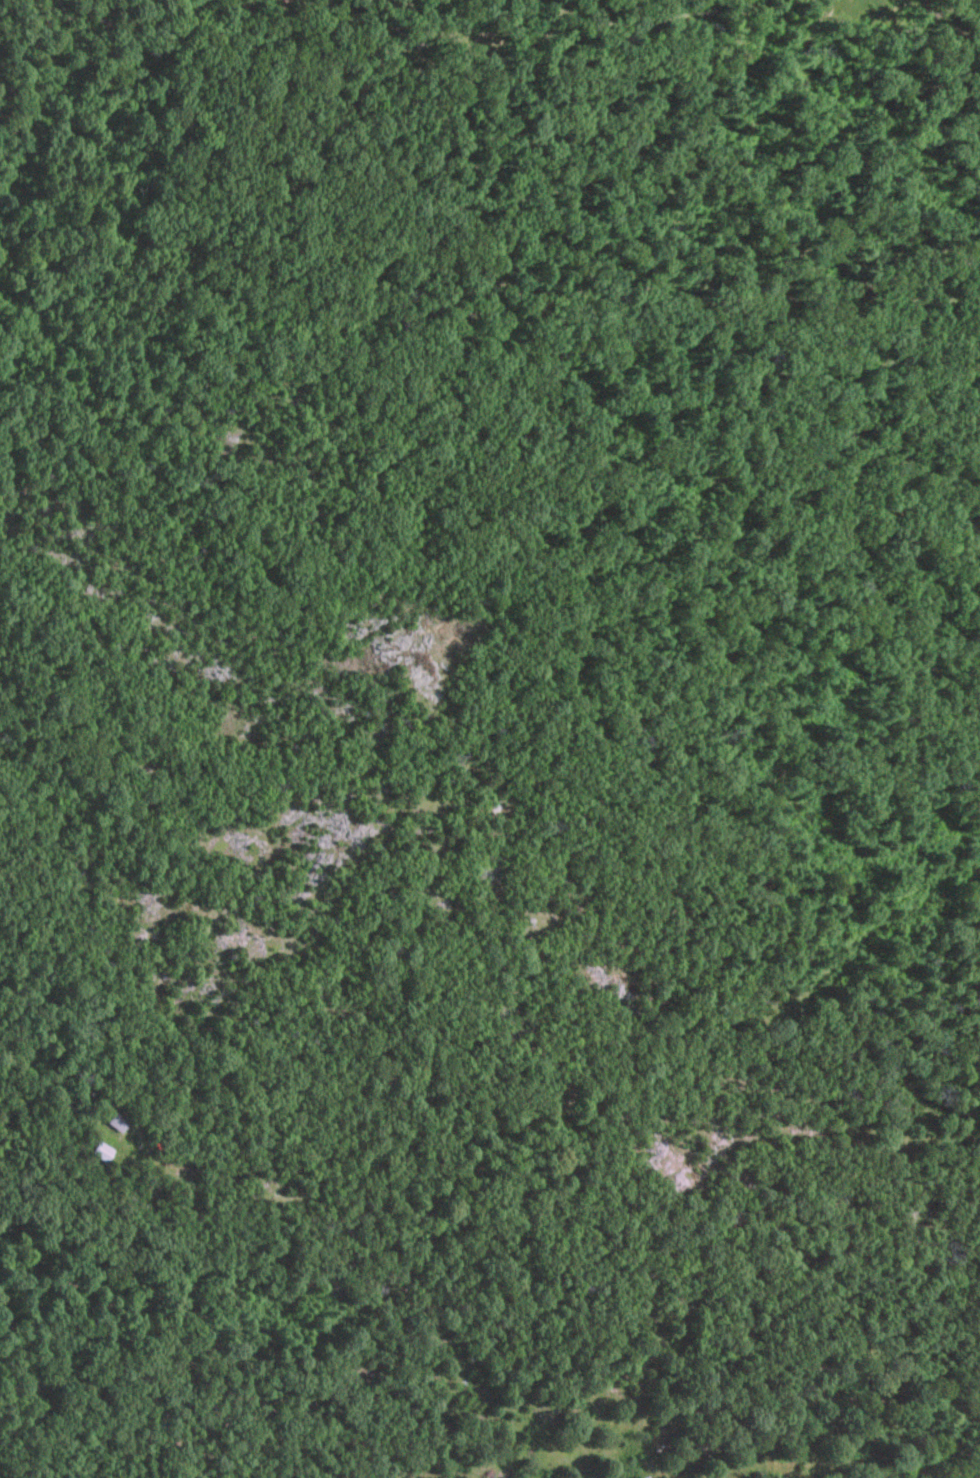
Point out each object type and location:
building: (118, 1123)
building: (103, 1153)

